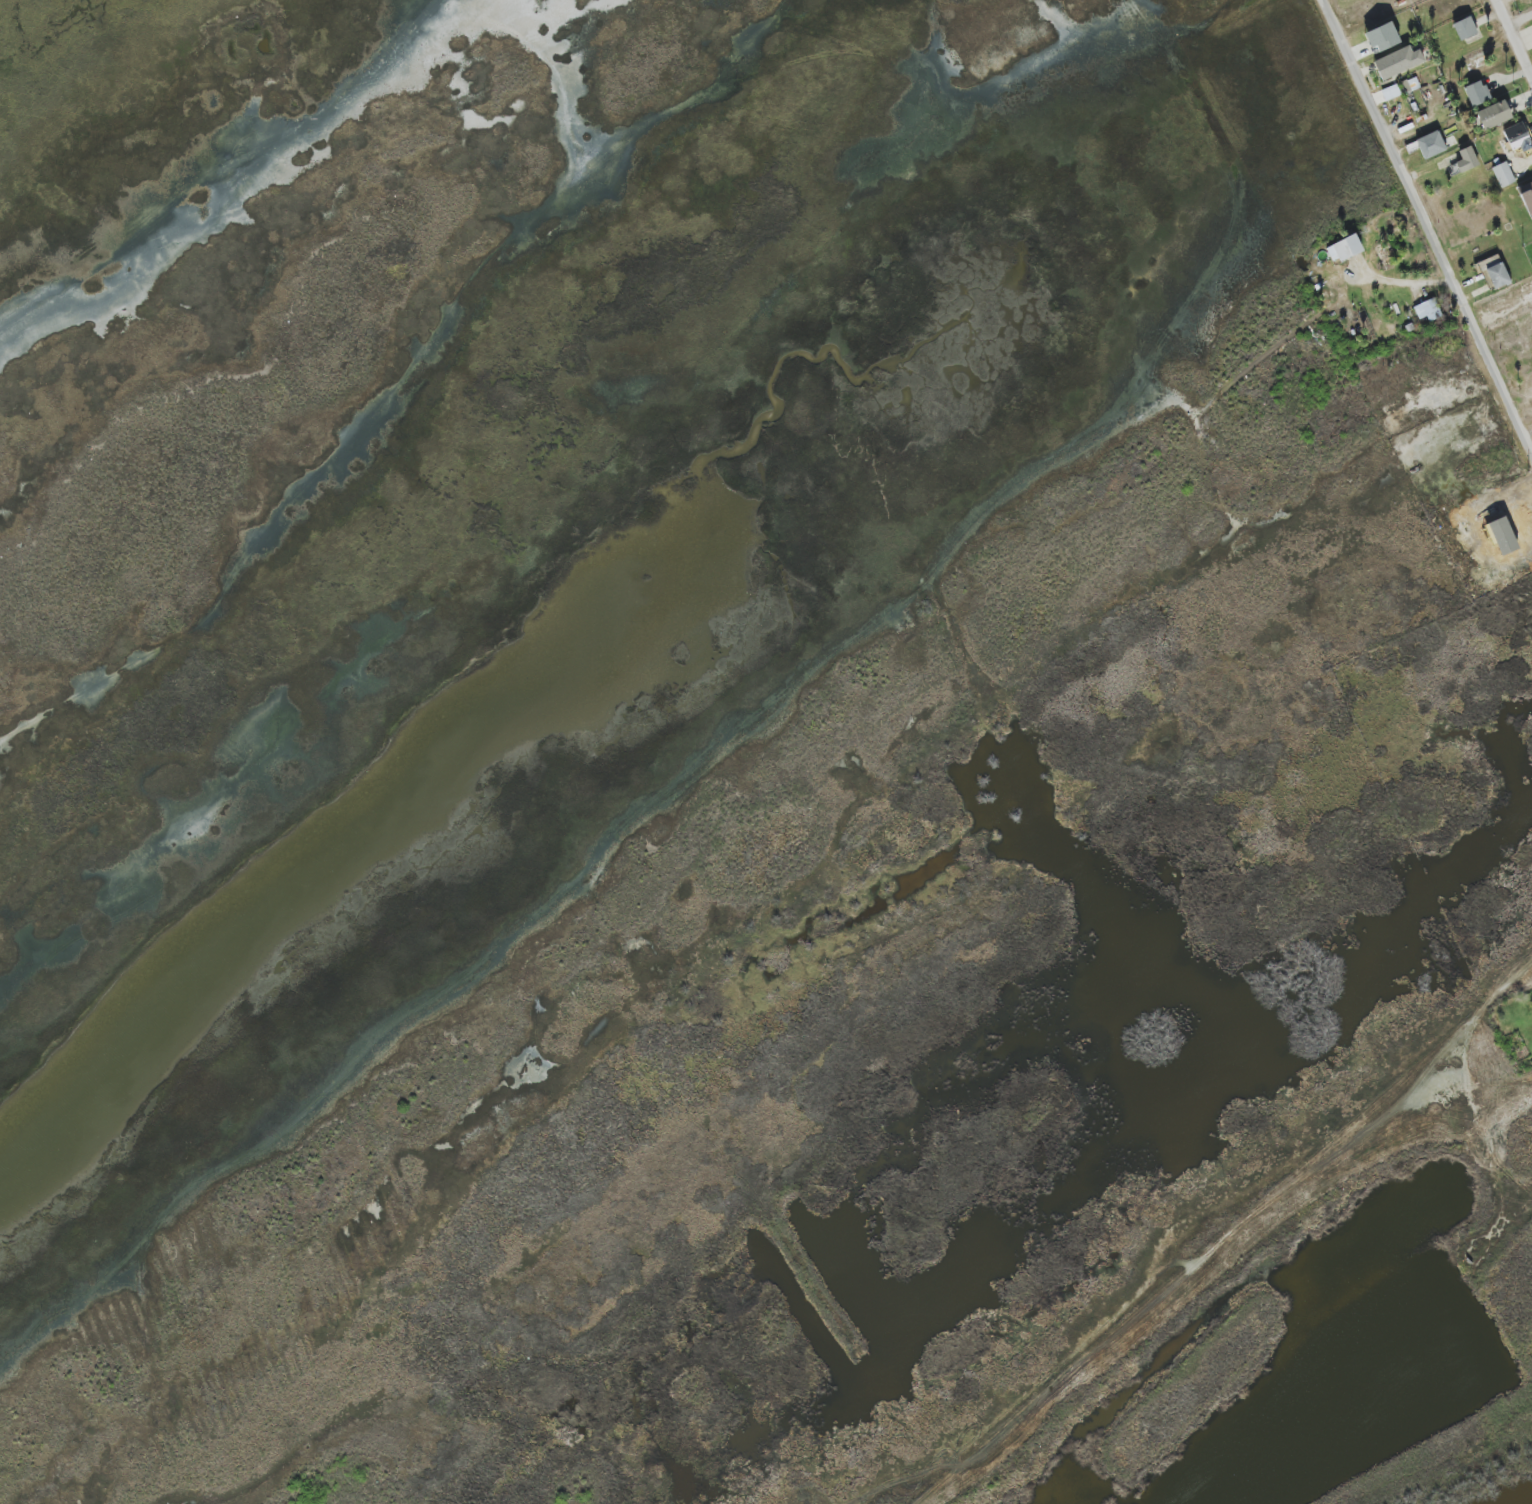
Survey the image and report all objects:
road: (1520, 21)
building: (1465, 28)
building: (1382, 37)
road: (1513, 39)
building: (1398, 62)
building: (1411, 85)
building: (1391, 92)
building: (1477, 93)
building: (1493, 114)
building: (1518, 136)
building: (1431, 144)
building: (1464, 161)
building: (1504, 174)
building: (1527, 195)
road: (1427, 227)
building: (1344, 248)
building: (1495, 273)
building: (1427, 310)

